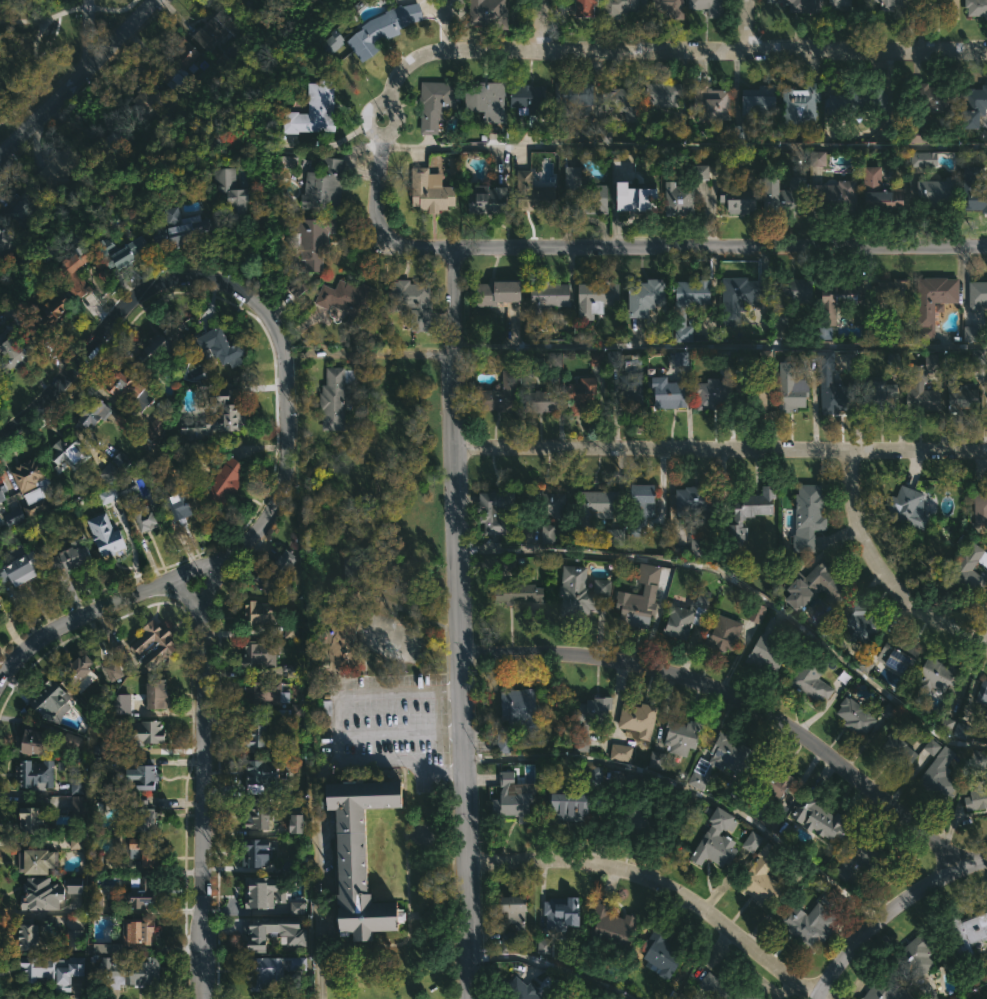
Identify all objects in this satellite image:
building: (843, 2)
building: (892, 4)
building: (803, 5)
building: (710, 6)
building: (619, 7)
building: (977, 7)
building: (588, 8)
building: (670, 8)
building: (490, 9)
building: (952, 9)
road: (25, 21)
road: (537, 25)
road: (753, 25)
building: (215, 27)
building: (382, 30)
road: (40, 35)
road: (88, 37)
building: (332, 42)
road: (492, 50)
road: (869, 51)
building: (175, 66)
road: (78, 84)
building: (146, 96)
building: (490, 96)
building: (666, 96)
building: (573, 97)
building: (530, 98)
building: (941, 98)
building: (762, 99)
building: (623, 101)
building: (852, 101)
building: (710, 103)
building: (438, 104)
building: (801, 104)
building: (976, 106)
building: (317, 109)
building: (583, 132)
building: (741, 132)
building: (112, 141)
building: (817, 158)
building: (923, 159)
building: (60, 166)
building: (701, 172)
building: (326, 183)
building: (974, 189)
building: (236, 190)
building: (431, 190)
building: (939, 191)
building: (534, 192)
building: (883, 192)
building: (585, 193)
building: (785, 193)
building: (640, 197)
building: (837, 197)
building: (490, 199)
building: (681, 199)
building: (740, 199)
building: (19, 210)
building: (184, 227)
building: (315, 240)
building: (6, 241)
road: (722, 245)
road: (410, 247)
building: (124, 250)
building: (78, 264)
building: (893, 290)
building: (499, 291)
building: (650, 292)
building: (550, 294)
building: (791, 295)
building: (978, 296)
building: (596, 297)
building: (743, 298)
building: (349, 299)
building: (839, 299)
building: (414, 301)
building: (934, 302)
building: (692, 304)
building: (55, 309)
building: (873, 331)
building: (970, 333)
building: (165, 343)
road: (722, 346)
building: (228, 347)
building: (20, 350)
building: (613, 357)
building: (765, 357)
building: (976, 357)
building: (553, 359)
building: (510, 381)
building: (125, 385)
building: (924, 386)
building: (834, 387)
building: (750, 389)
building: (792, 390)
building: (630, 391)
building: (670, 393)
building: (583, 394)
building: (714, 394)
building: (338, 395)
building: (879, 395)
building: (963, 397)
building: (541, 401)
road: (287, 404)
building: (95, 416)
building: (216, 417)
building: (161, 426)
building: (69, 451)
road: (721, 451)
building: (115, 468)
building: (224, 483)
building: (35, 486)
building: (128, 486)
building: (3, 489)
building: (108, 495)
building: (698, 499)
building: (553, 505)
building: (981, 505)
building: (642, 506)
building: (181, 507)
building: (597, 507)
building: (909, 507)
building: (753, 511)
building: (499, 512)
building: (809, 516)
building: (14, 517)
building: (146, 519)
building: (107, 534)
building: (547, 534)
building: (616, 537)
building: (698, 545)
building: (71, 557)
building: (21, 566)
building: (351, 567)
road: (883, 569)
building: (969, 569)
building: (274, 573)
building: (814, 585)
road: (744, 588)
building: (580, 592)
building: (0, 594)
building: (522, 596)
road: (186, 597)
building: (640, 599)
building: (0, 604)
building: (756, 613)
building: (262, 616)
building: (687, 616)
road: (460, 623)
building: (858, 624)
building: (290, 631)
building: (725, 633)
building: (154, 645)
building: (773, 647)
building: (261, 654)
building: (900, 654)
building: (117, 662)
building: (77, 668)
building: (291, 671)
building: (939, 674)
building: (813, 681)
road: (380, 693)
building: (983, 693)
building: (158, 696)
building: (272, 698)
road: (739, 698)
building: (51, 701)
building: (121, 703)
building: (325, 713)
building: (516, 715)
building: (857, 716)
building: (639, 718)
building: (593, 721)
building: (961, 730)
building: (145, 732)
building: (683, 736)
building: (258, 739)
building: (39, 740)
building: (931, 747)
road: (336, 751)
building: (901, 751)
building: (622, 753)
building: (100, 756)
building: (655, 759)
building: (979, 759)
building: (723, 760)
building: (25, 771)
building: (261, 775)
building: (595, 775)
building: (940, 777)
building: (146, 778)
building: (76, 783)
building: (773, 783)
road: (203, 784)
building: (978, 797)
building: (511, 798)
building: (570, 805)
building: (79, 812)
building: (259, 813)
building: (639, 815)
building: (32, 817)
building: (143, 818)
building: (823, 819)
building: (295, 823)
building: (77, 838)
building: (751, 841)
building: (717, 842)
building: (144, 849)
building: (258, 851)
building: (361, 856)
building: (863, 858)
building: (36, 859)
road: (314, 874)
building: (764, 877)
road: (659, 882)
building: (74, 885)
building: (259, 891)
building: (42, 893)
building: (140, 893)
building: (96, 901)
building: (296, 907)
building: (516, 909)
road: (889, 915)
building: (559, 919)
building: (615, 924)
building: (809, 924)
building: (139, 932)
building: (274, 932)
building: (965, 934)
building: (29, 938)
building: (72, 939)
building: (508, 940)
building: (663, 954)
building: (915, 959)
road: (553, 966)
building: (53, 969)
building: (271, 969)
building: (127, 970)
building: (727, 987)
building: (884, 988)
building: (521, 990)
building: (925, 991)
road: (978, 993)
building: (598, 995)

